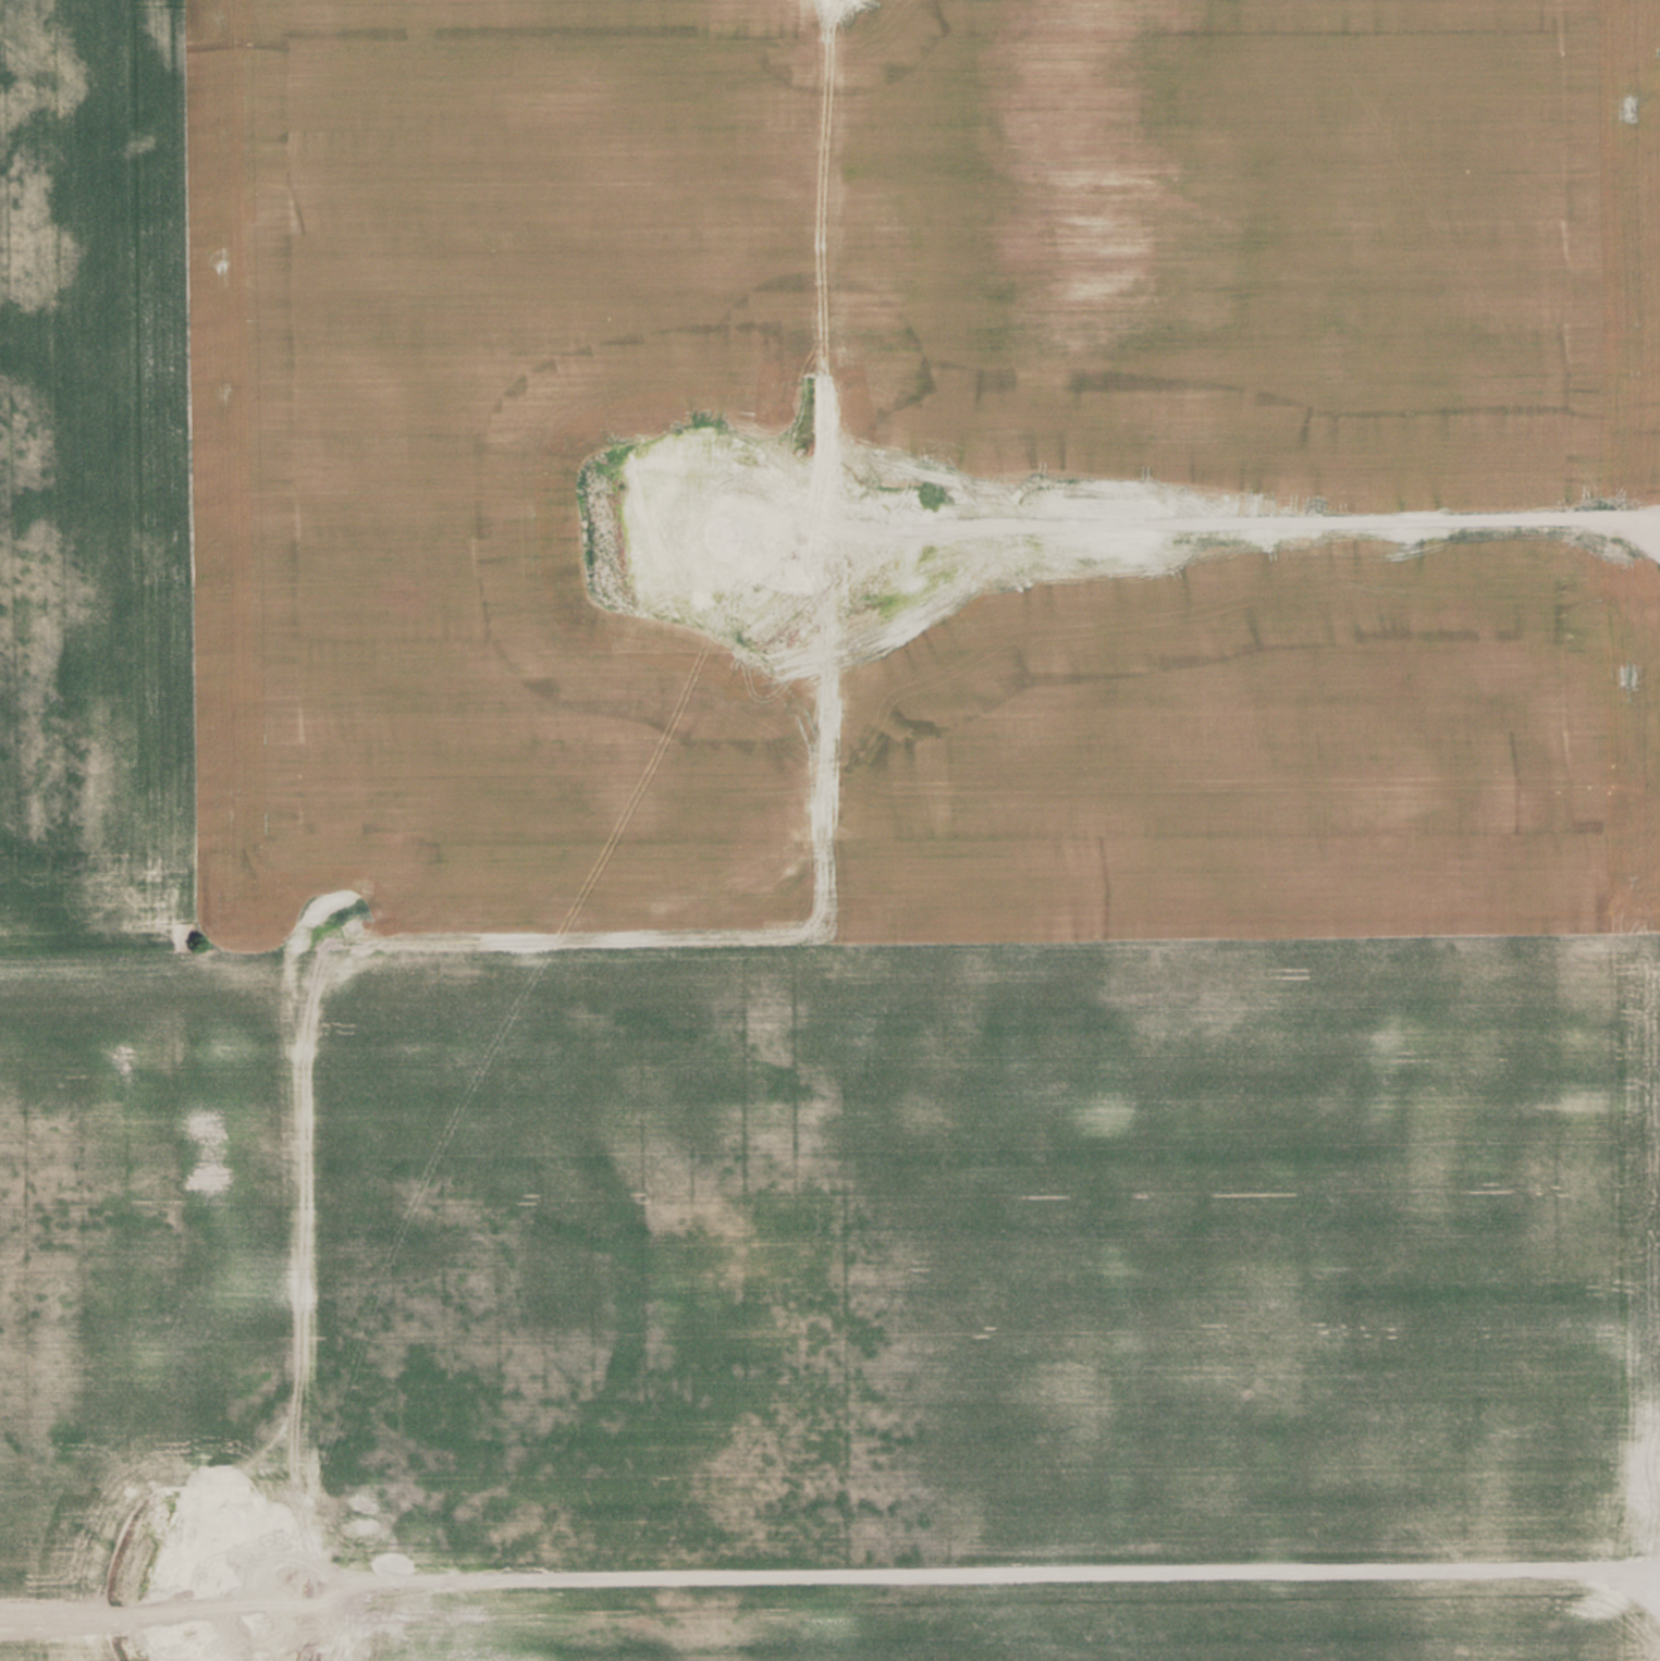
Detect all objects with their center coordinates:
wind turbine: (806, 530)
wind turbine: (214, 1600)

